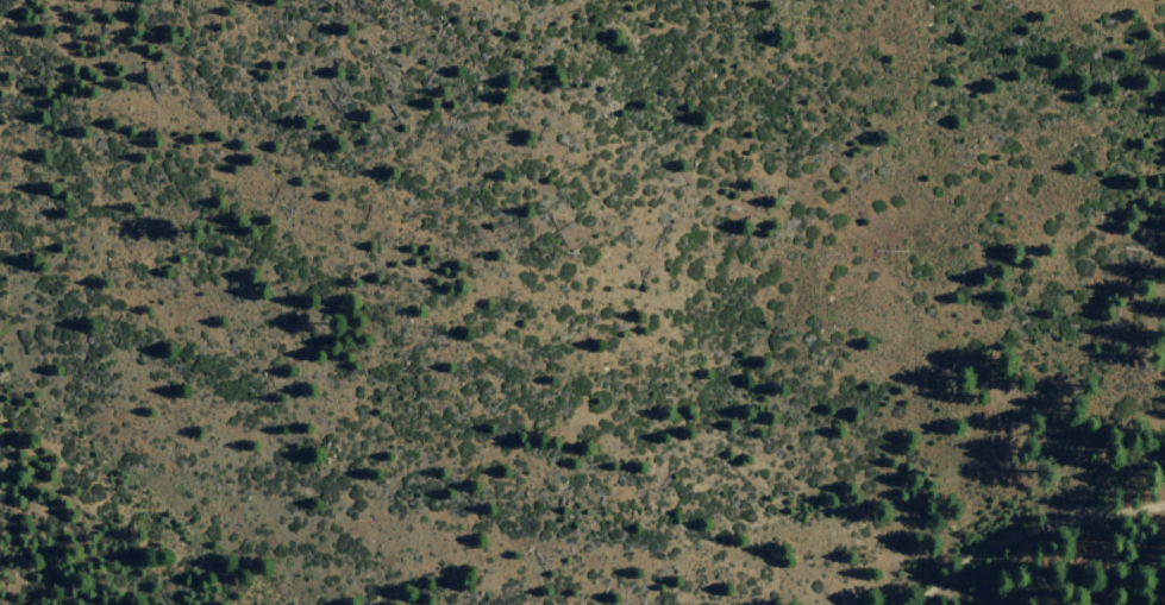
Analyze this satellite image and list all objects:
road: (1033, 534)

